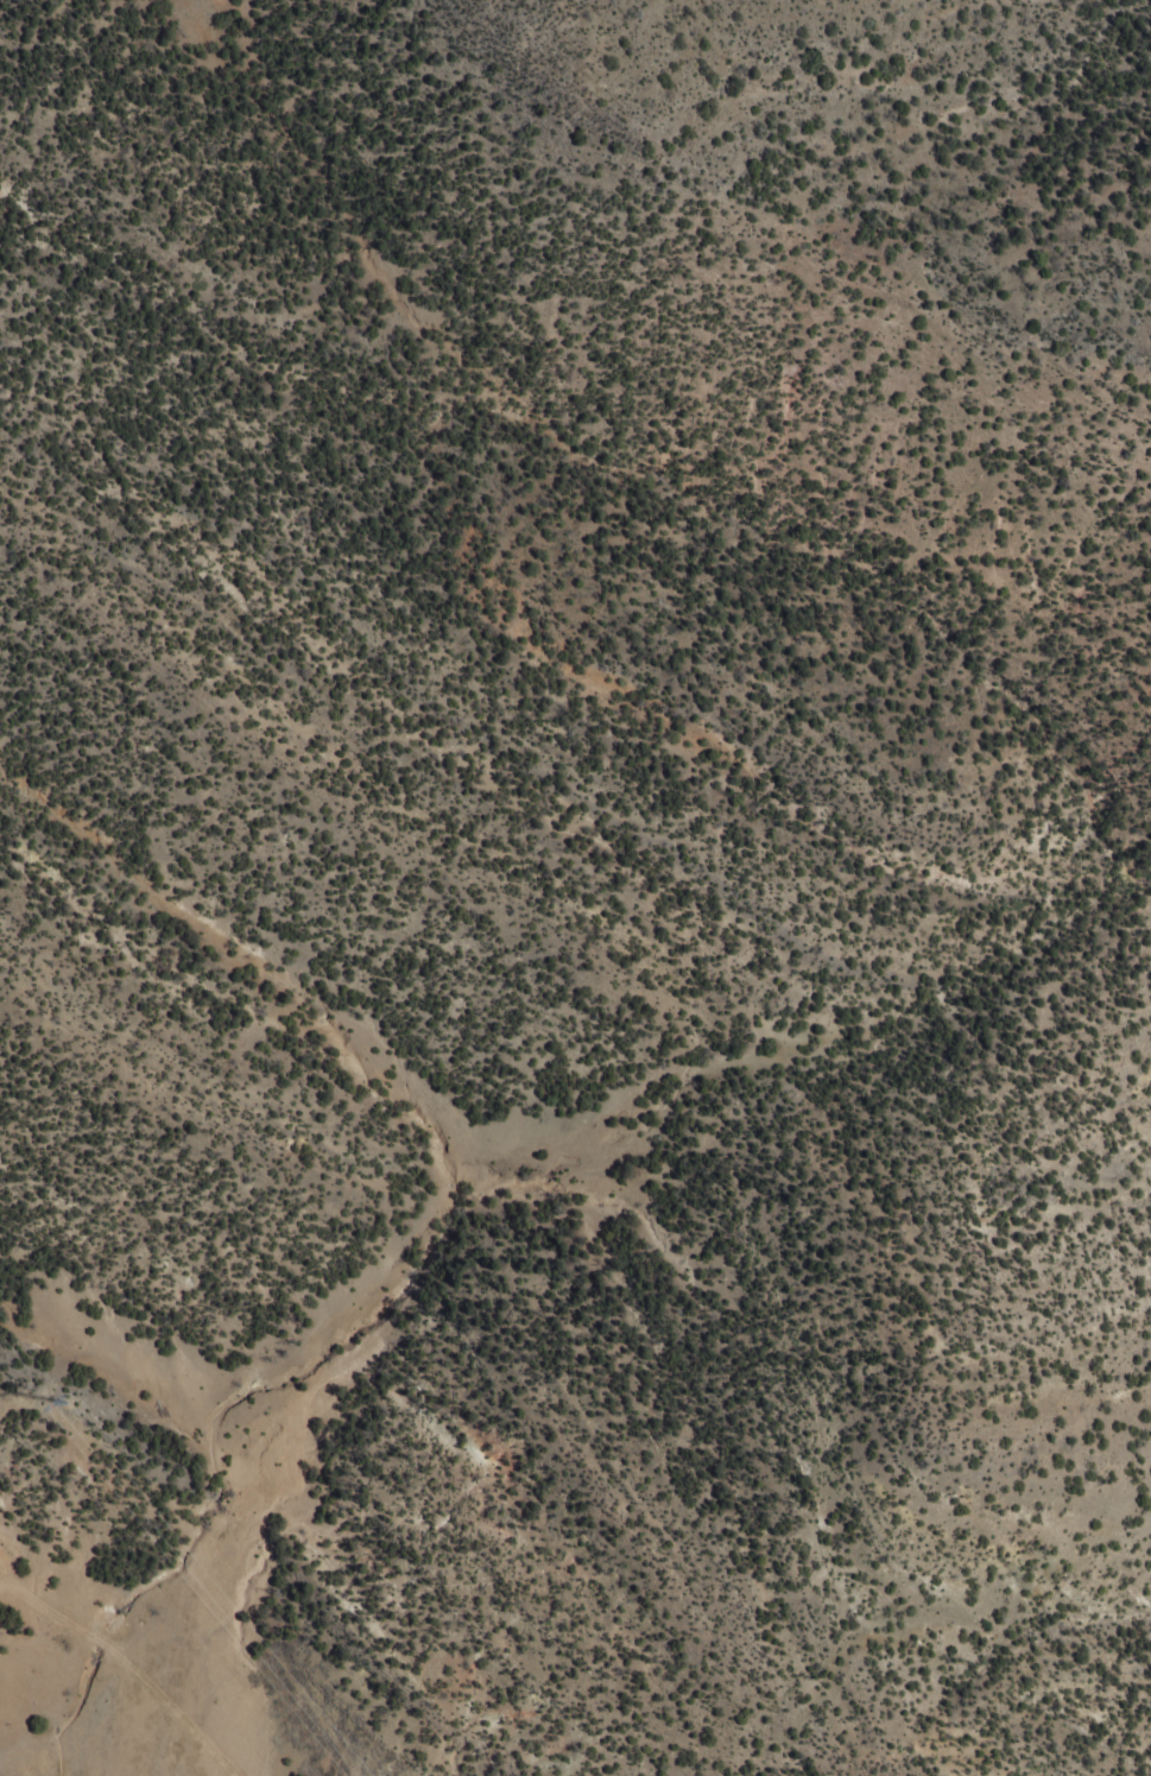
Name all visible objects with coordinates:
power tower: (68, 1402)
road: (127, 1667)

